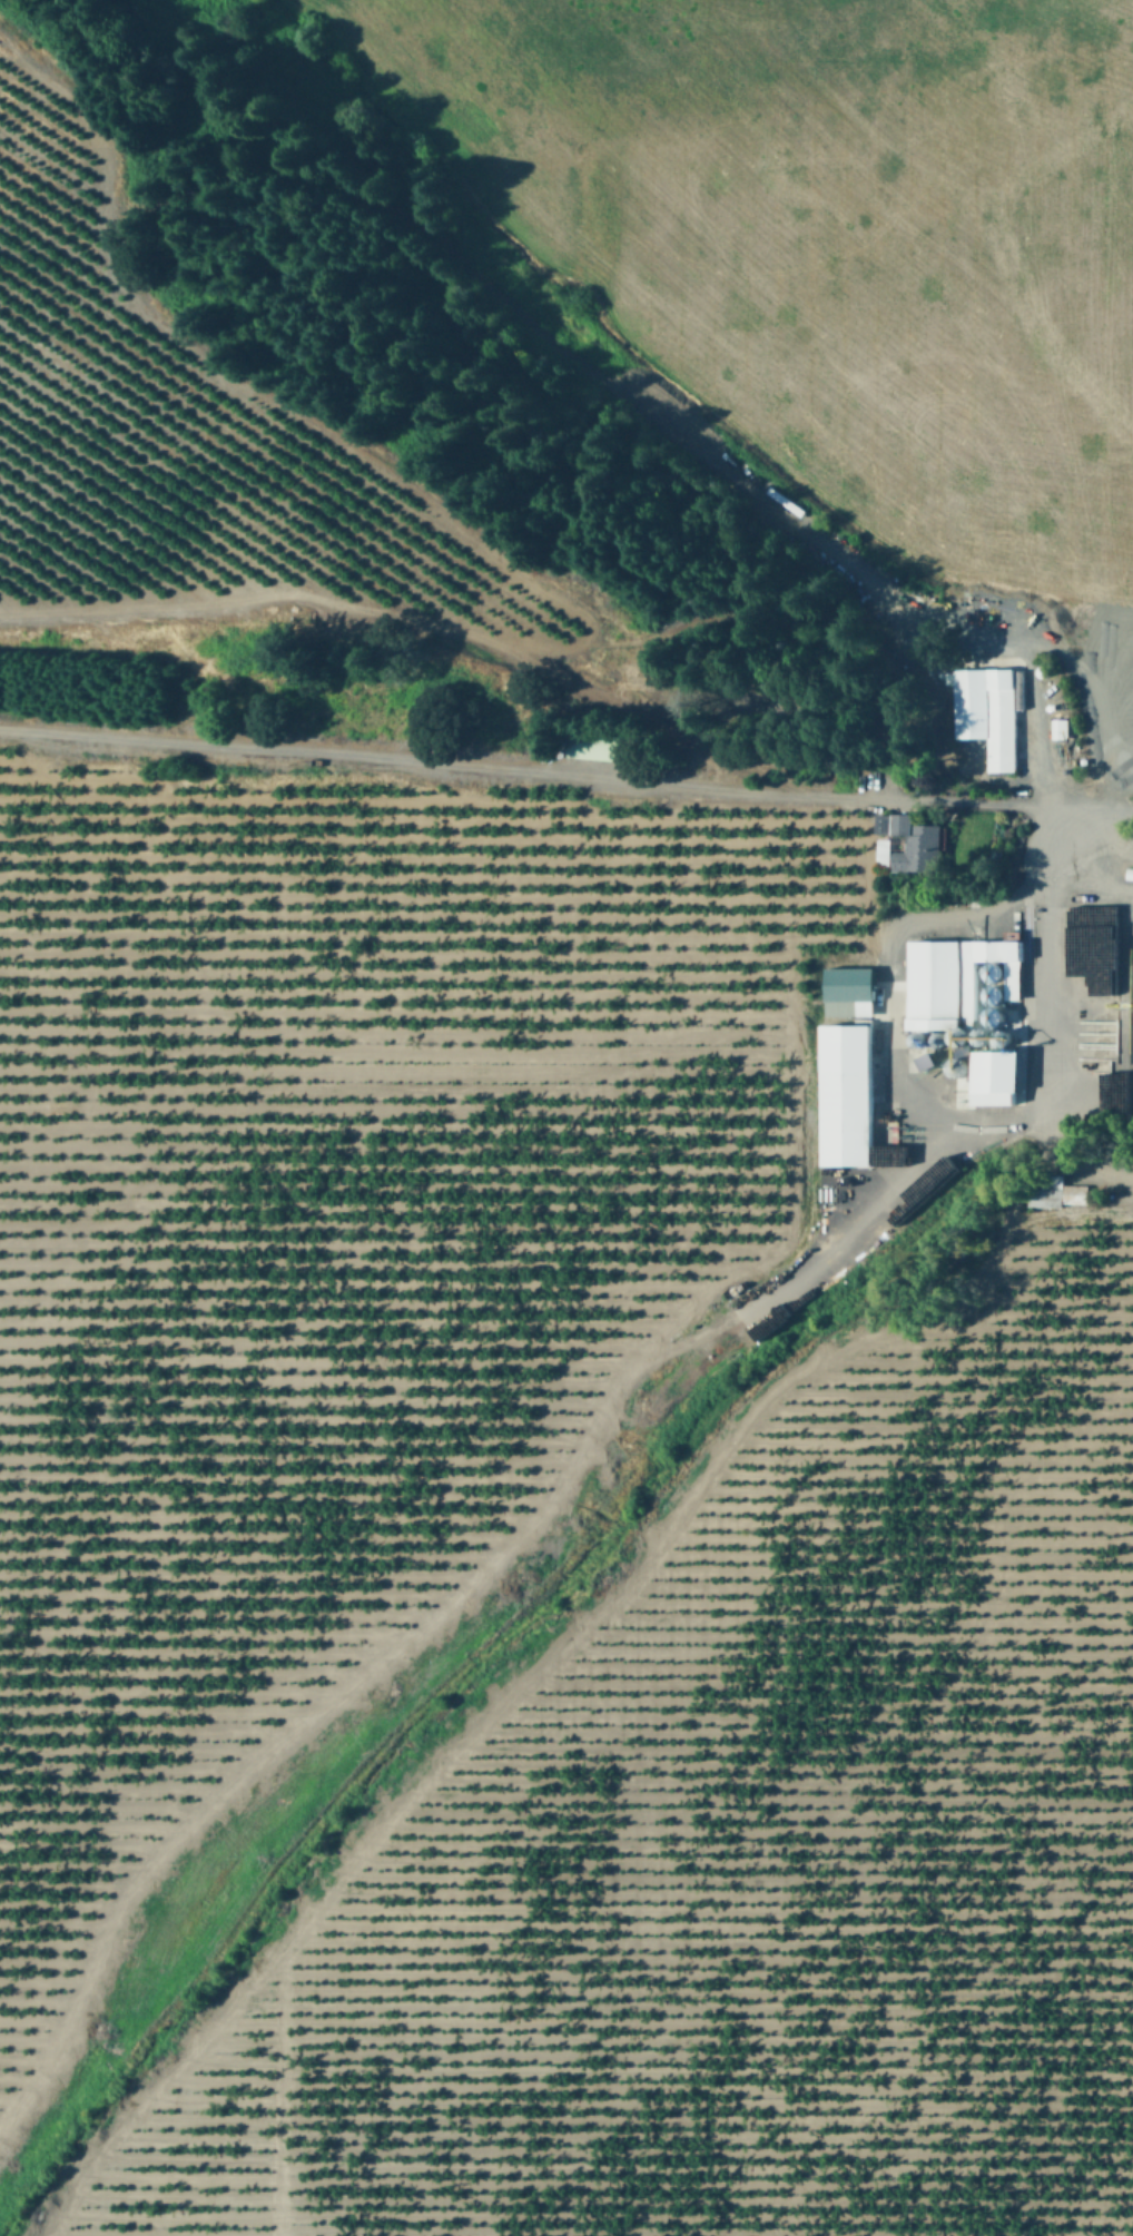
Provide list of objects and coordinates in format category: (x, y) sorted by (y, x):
crop: (836, 250)
crop: (264, 574)
building: (987, 711)
road: (565, 775)
building: (914, 845)
road: (1063, 871)
building: (958, 977)
road: (1047, 984)
building: (851, 991)
building: (998, 1075)
building: (849, 1094)
road: (1008, 1117)
road: (1119, 1188)

